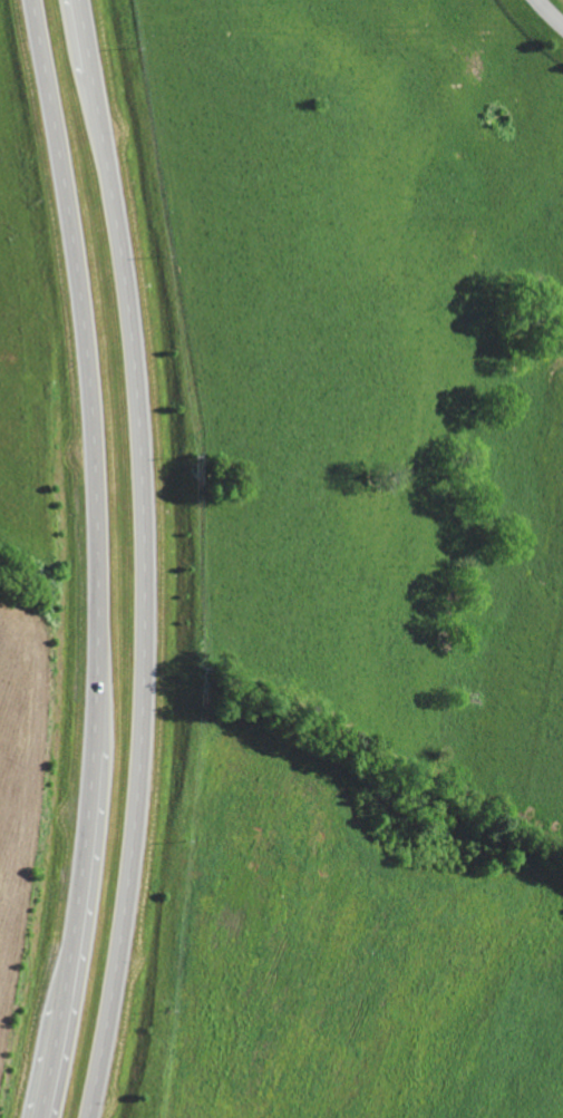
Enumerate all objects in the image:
road: (549, 13)
road: (99, 558)
road: (146, 558)
road: (460, 990)
road: (416, 1037)
road: (376, 1110)

